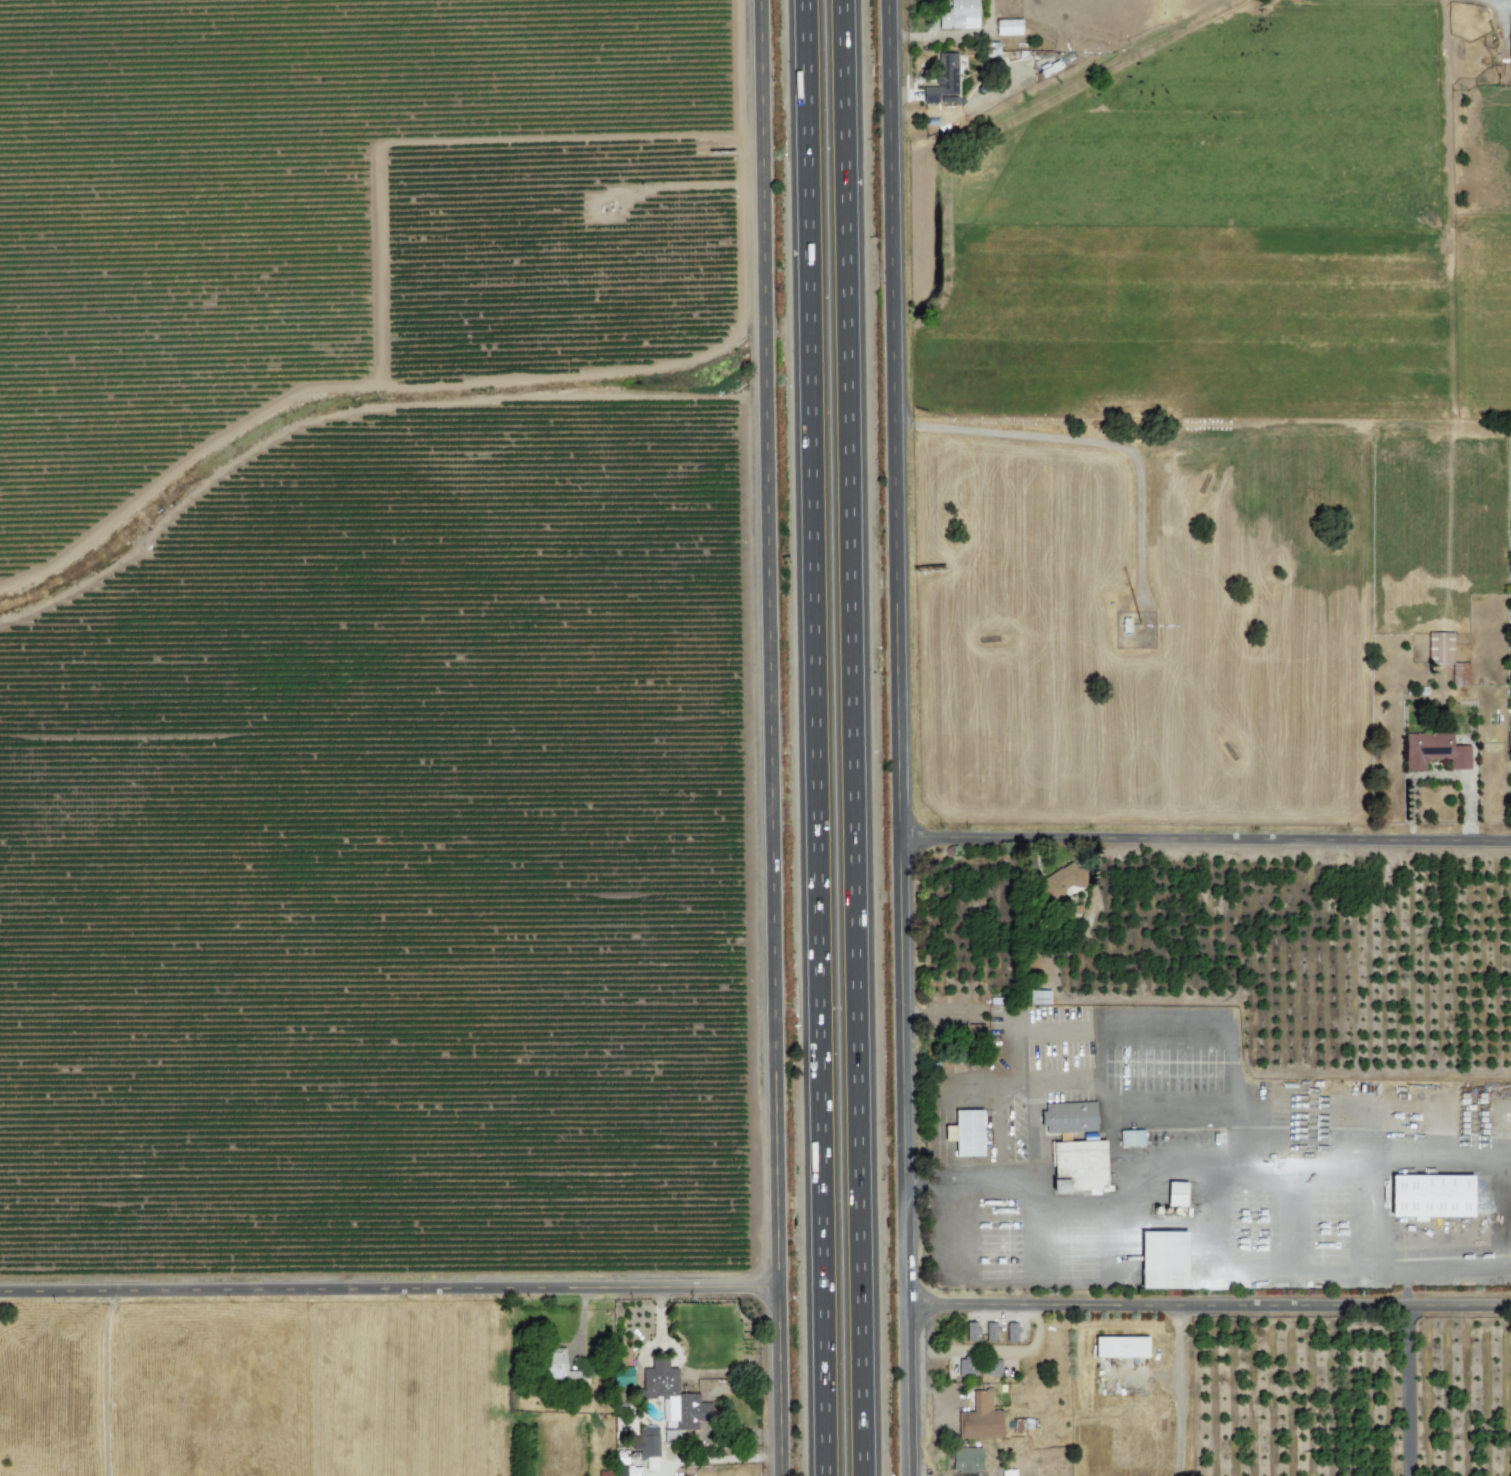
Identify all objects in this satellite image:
building: (959, 15)
building: (1007, 27)
building: (1509, 41)
building: (942, 78)
road: (1089, 442)
building: (1439, 647)
building: (1459, 674)
road: (773, 737)
road: (817, 737)
road: (900, 737)
road: (853, 738)
building: (1433, 751)
road: (1440, 776)
road: (1206, 839)
building: (1061, 883)
building: (1038, 997)
road: (1041, 1079)
building: (1068, 1117)
building: (965, 1133)
building: (984, 1135)
building: (1130, 1138)
building: (1093, 1168)
building: (1175, 1194)
building: (1444, 1198)
building: (1162, 1260)
road: (390, 1290)
road: (1209, 1306)
building: (970, 1331)
building: (990, 1331)
building: (1011, 1332)
building: (1120, 1347)
building: (966, 1367)
building: (990, 1367)
building: (559, 1368)
road: (1406, 1391)
building: (672, 1396)
building: (979, 1418)
building: (649, 1447)
building: (965, 1459)
building: (1007, 1472)
building: (612, 1473)

